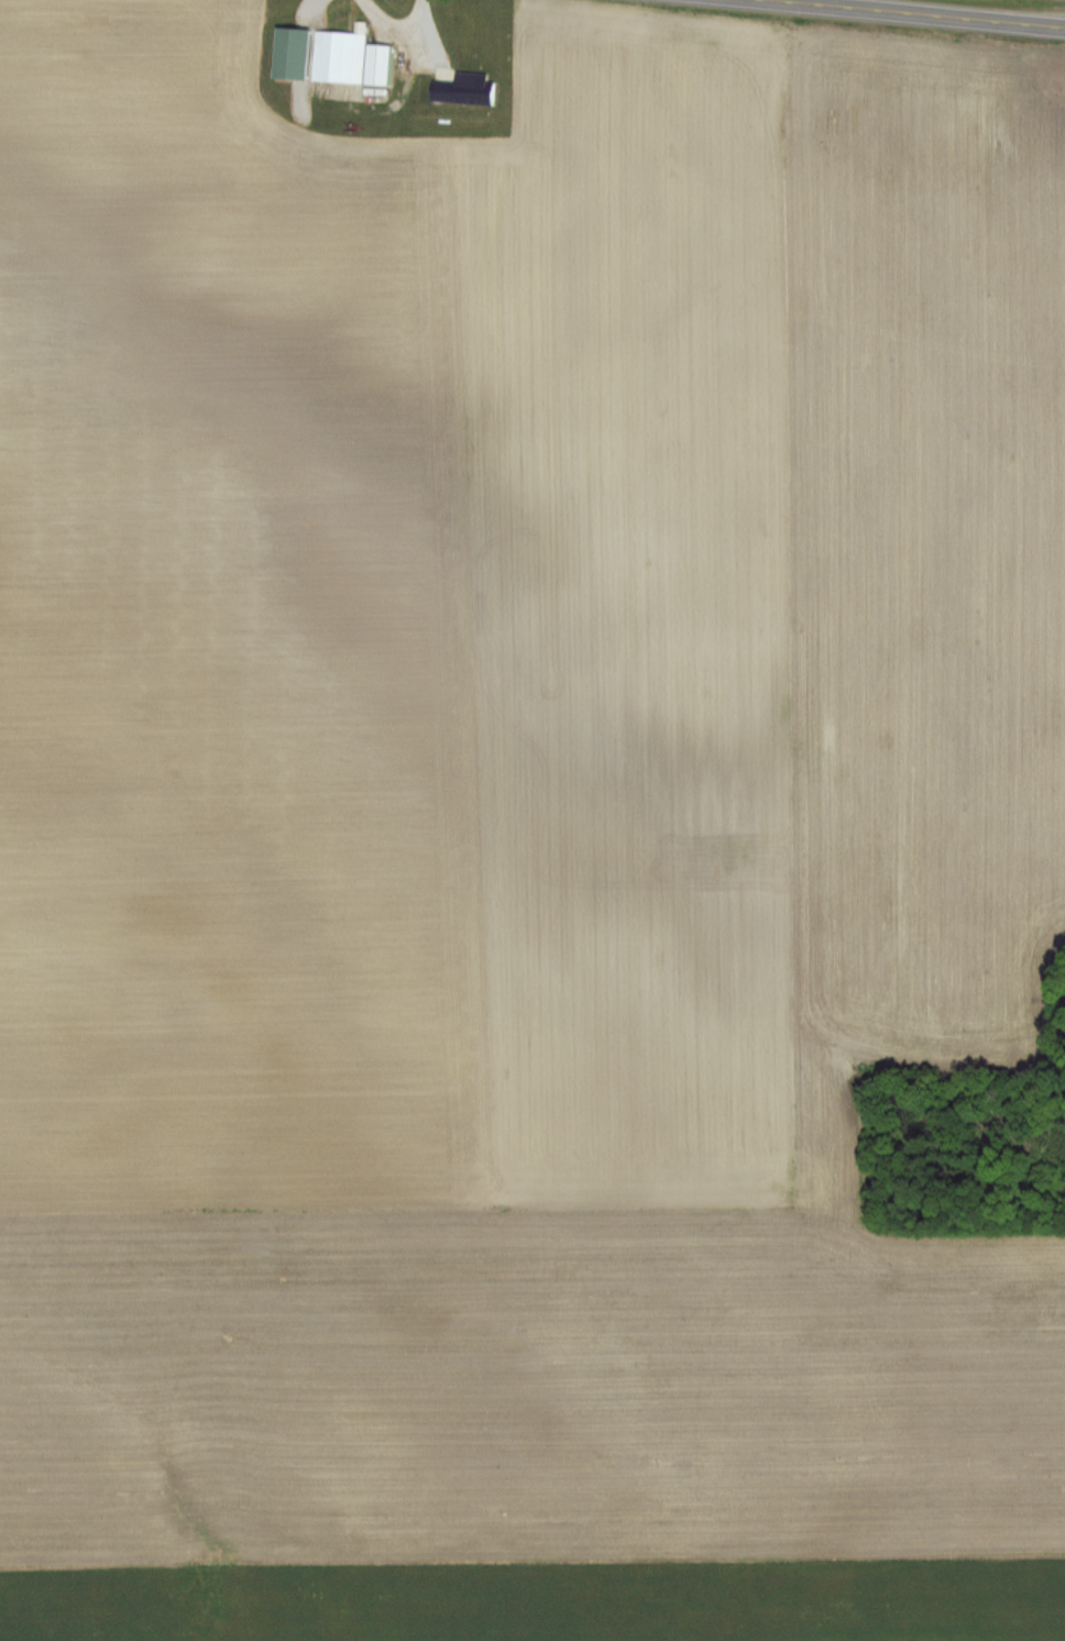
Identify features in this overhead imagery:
road: (916, 10)
road: (387, 42)
building: (287, 54)
building: (348, 58)
building: (463, 89)

